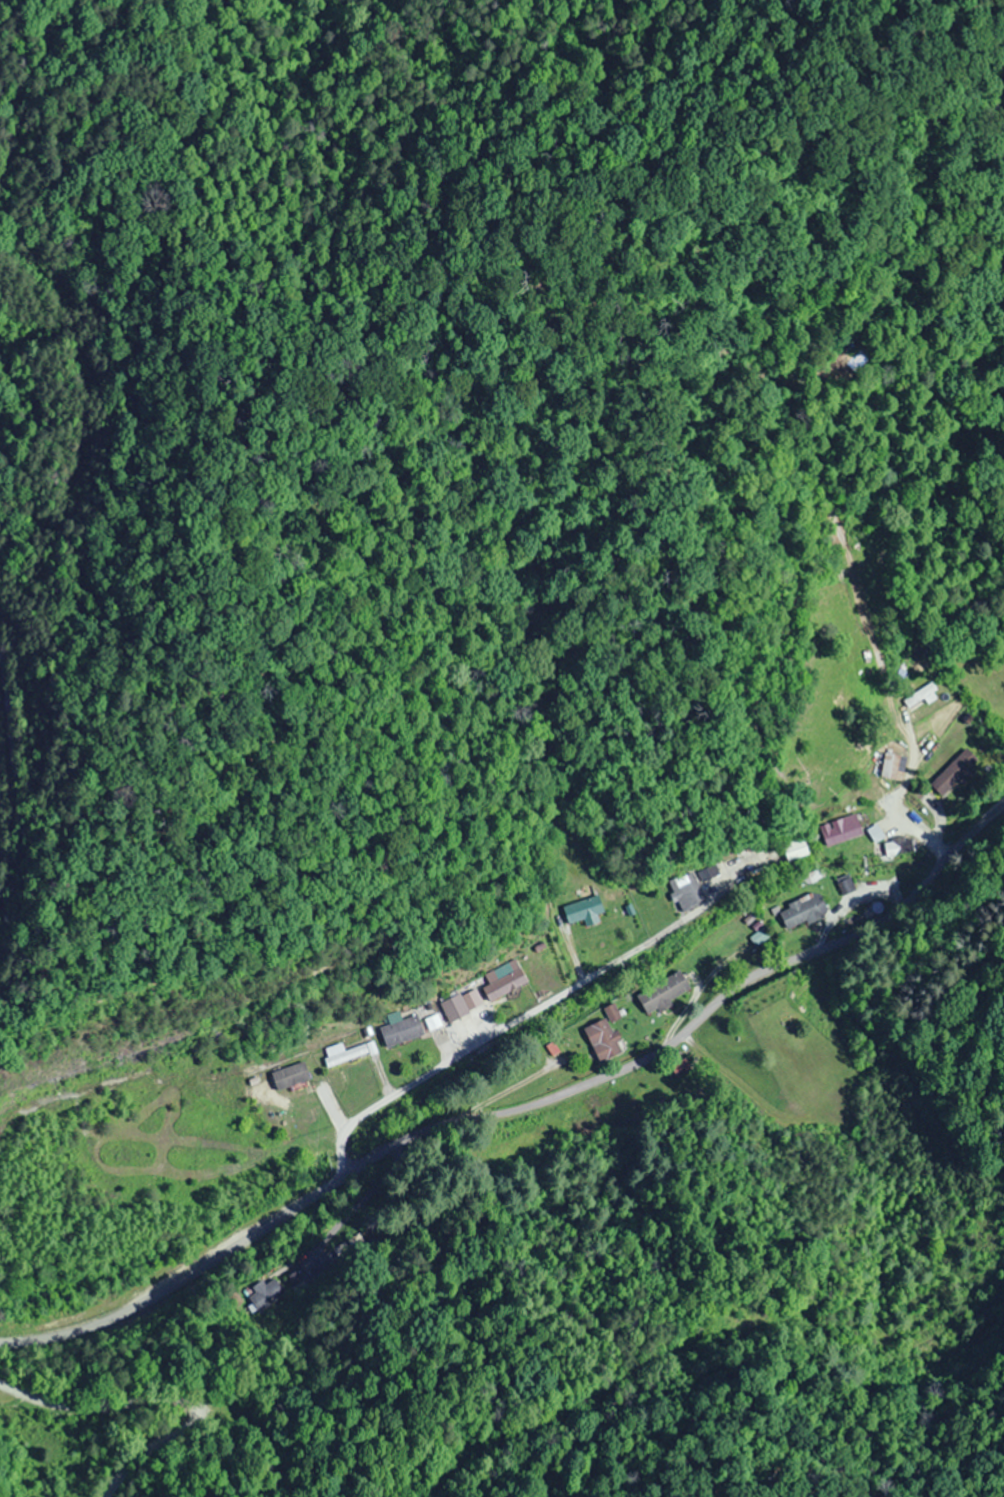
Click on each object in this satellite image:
building: (890, 767)
building: (955, 771)
building: (840, 829)
building: (796, 853)
building: (704, 871)
building: (685, 891)
building: (582, 909)
building: (803, 910)
building: (505, 979)
building: (662, 993)
building: (453, 1006)
building: (399, 1028)
road: (510, 1029)
building: (602, 1039)
building: (342, 1053)
road: (516, 1111)
building: (269, 1291)
road: (146, 1401)

